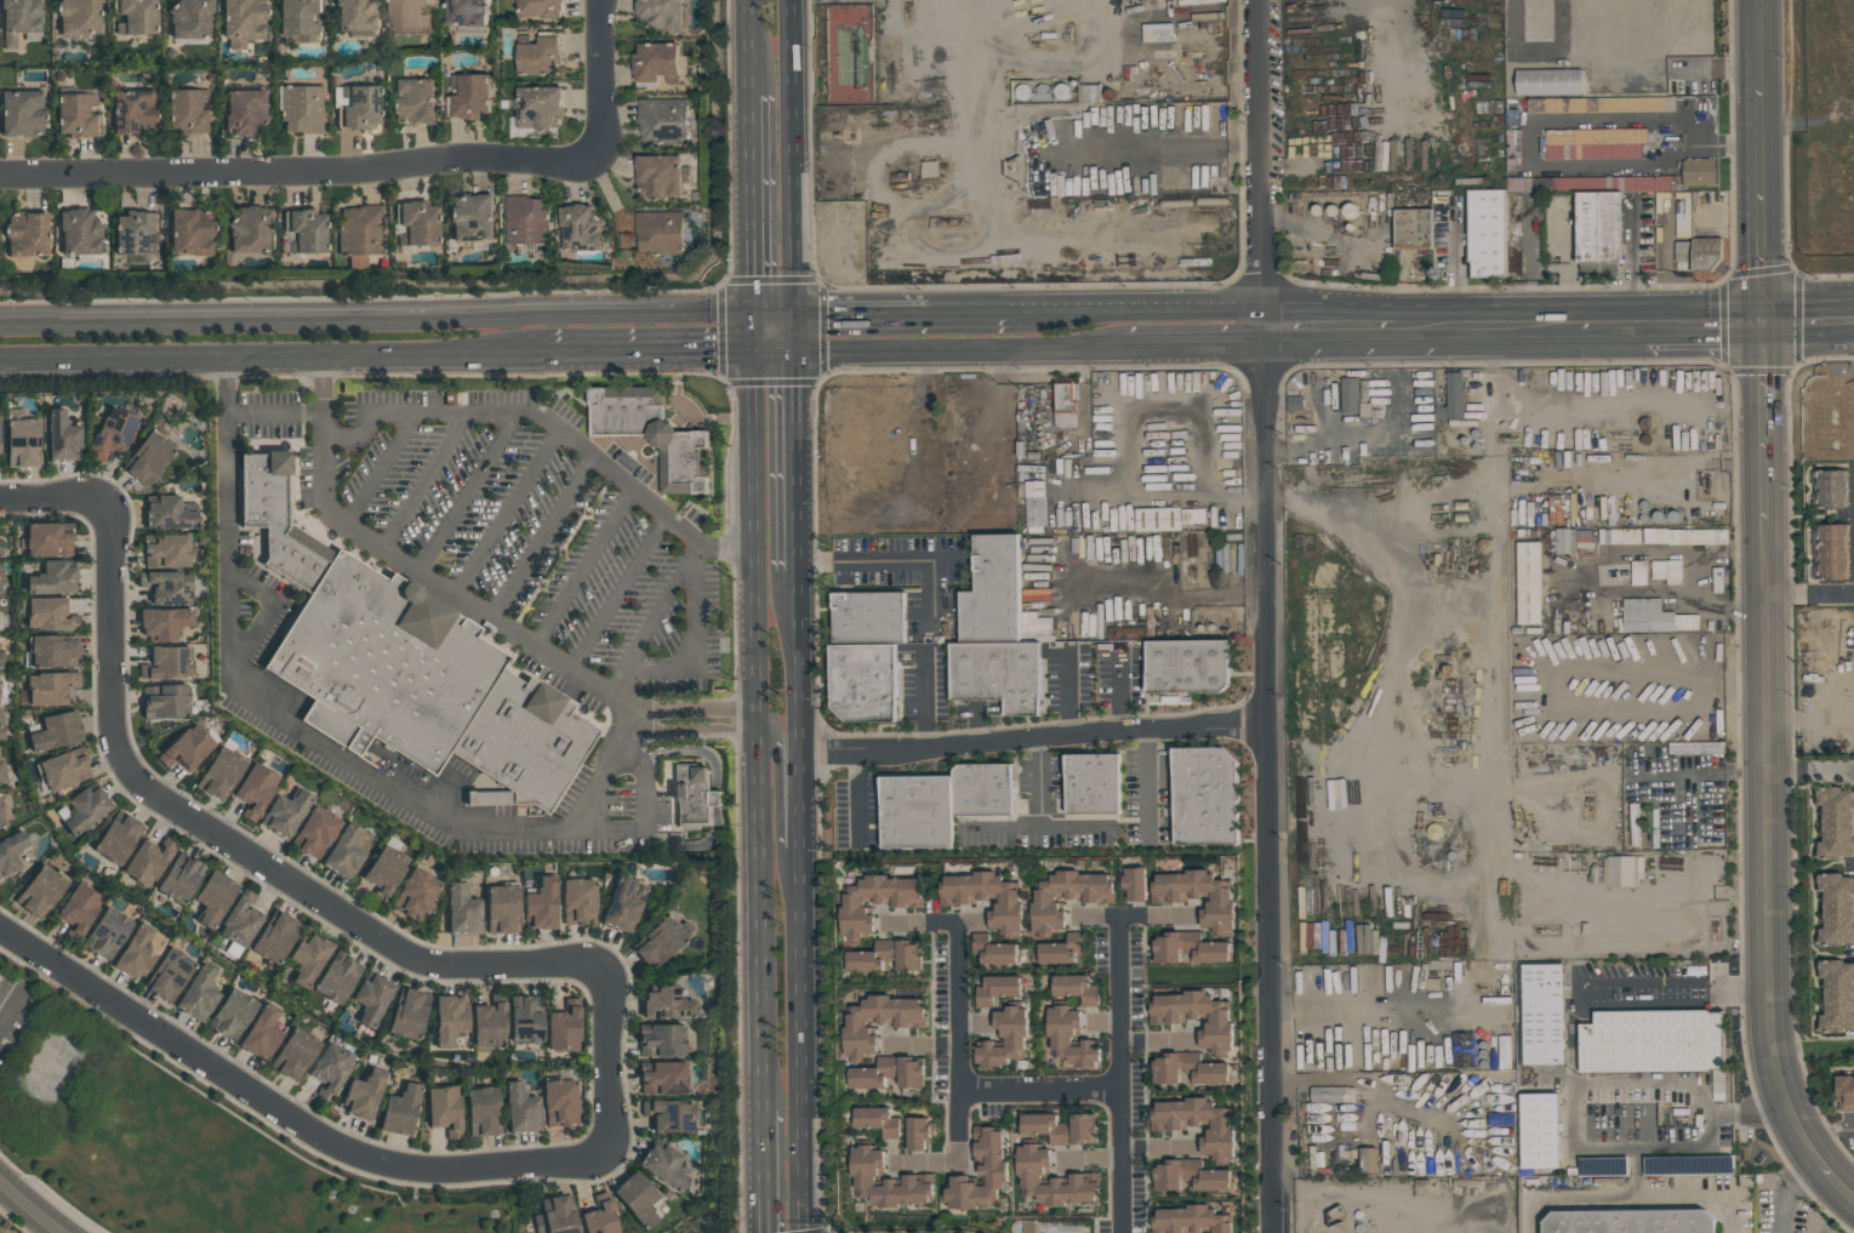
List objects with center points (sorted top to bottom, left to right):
building: (540, 7)
building: (464, 12)
building: (354, 13)
building: (409, 13)
building: (660, 13)
building: (135, 16)
building: (297, 16)
building: (78, 17)
building: (190, 17)
building: (244, 17)
building: (19, 18)
building: (1538, 21)
petroleum well: (1071, 33)
road: (1755, 41)
road: (752, 46)
building: (538, 57)
building: (656, 63)
road: (1666, 65)
road: (601, 75)
building: (1547, 81)
building: (1091, 93)
building: (470, 95)
building: (412, 102)
building: (1607, 104)
building: (356, 105)
building: (301, 107)
building: (538, 107)
building: (187, 109)
building: (244, 109)
building: (132, 112)
building: (21, 113)
building: (75, 114)
road: (1547, 120)
building: (662, 121)
crop: (1820, 135)
building: (1595, 143)
building: (1513, 149)
road: (797, 156)
road: (300, 171)
building: (1698, 171)
building: (658, 176)
building: (1649, 183)
building: (1519, 184)
road: (1757, 201)
building: (472, 217)
building: (524, 219)
road: (754, 221)
petroleum well: (955, 221)
building: (413, 222)
building: (1599, 226)
building: (1411, 227)
building: (581, 228)
building: (247, 229)
building: (304, 229)
building: (359, 230)
building: (79, 232)
building: (135, 232)
building: (188, 232)
building: (1485, 232)
building: (658, 233)
building: (25, 234)
building: (1683, 244)
building: (1706, 252)
road: (1462, 261)
road: (1140, 307)
road: (906, 312)
traffic signals: (755, 313)
road: (777, 313)
traffic signals: (800, 313)
road: (377, 315)
road: (1807, 319)
road: (1702, 320)
traffic signals: (1759, 320)
road: (1611, 321)
road: (1540, 322)
road: (1448, 324)
road: (1328, 325)
road: (802, 331)
road: (1196, 344)
road: (964, 349)
traffic signals: (757, 350)
road: (780, 350)
traffic signals: (803, 350)
road: (652, 352)
road: (274, 355)
building: (1348, 394)
building: (1453, 398)
building: (1294, 403)
building: (1065, 405)
road: (278, 412)
petroleum well: (1302, 418)
road: (1761, 422)
road: (553, 423)
building: (0, 433)
building: (110, 434)
building: (62, 436)
petroleum well: (1622, 436)
building: (19, 443)
building: (148, 457)
road: (800, 459)
building: (692, 466)
road: (383, 468)
building: (1831, 478)
road: (428, 480)
petroleum well: (1707, 483)
road: (52, 492)
road: (470, 493)
building: (1831, 496)
building: (1033, 503)
road: (509, 512)
building: (167, 513)
building: (1156, 519)
building: (283, 520)
building: (1830, 532)
road: (755, 535)
road: (546, 538)
building: (46, 540)
building: (0, 547)
building: (165, 550)
building: (1830, 550)
road: (701, 555)
road: (900, 559)
road: (587, 569)
building: (1830, 569)
road: (420, 570)
road: (1587, 572)
building: (0, 576)
petroleum well: (1618, 577)
building: (52, 578)
road: (1693, 581)
building: (1528, 582)
building: (166, 587)
building: (992, 592)
road: (1169, 592)
road: (621, 593)
road: (1808, 595)
building: (47, 615)
building: (1645, 615)
road: (661, 616)
road: (1263, 616)
road: (268, 617)
building: (868, 617)
building: (162, 623)
building: (1128, 633)
road: (696, 650)
building: (53, 651)
building: (0, 657)
road: (802, 661)
building: (166, 663)
building: (389, 663)
building: (1186, 666)
road: (1567, 669)
building: (997, 673)
road: (618, 681)
building: (863, 681)
building: (46, 689)
road: (1067, 691)
road: (1119, 692)
road: (924, 696)
building: (164, 700)
road: (701, 707)
building: (0, 726)
road: (698, 730)
building: (56, 731)
road: (314, 735)
road: (758, 735)
road: (1033, 736)
building: (529, 742)
building: (186, 747)
building: (64, 769)
building: (219, 772)
road: (1809, 772)
building: (1, 774)
road: (1038, 781)
road: (1146, 781)
building: (1091, 784)
building: (253, 789)
building: (982, 789)
road: (857, 794)
building: (490, 795)
building: (697, 795)
building: (1832, 795)
road: (777, 797)
building: (1204, 797)
road: (804, 800)
petroleum well: (1647, 804)
petroleum well: (1590, 806)
building: (85, 809)
building: (915, 811)
building: (285, 812)
building: (1836, 812)
road: (646, 815)
petroleum well: (1518, 820)
building: (1, 821)
road: (1036, 826)
building: (1835, 829)
building: (315, 832)
road: (1764, 835)
building: (116, 838)
building: (1836, 847)
building: (11, 852)
building: (344, 852)
building: (147, 862)
building: (384, 869)
building: (1622, 870)
building: (179, 878)
building: (1133, 884)
building: (1835, 884)
road: (306, 890)
building: (39, 892)
building: (413, 894)
road: (1701, 894)
building: (1198, 896)
building: (212, 897)
building: (1066, 897)
building: (1836, 901)
building: (577, 902)
building: (874, 903)
building: (540, 904)
building: (621, 906)
building: (1008, 908)
building: (462, 909)
building: (501, 909)
building: (78, 911)
road: (1135, 914)
building: (1836, 918)
building: (239, 923)
road: (924, 923)
petroleum well: (1716, 925)
petroleum well: (1547, 927)
road: (760, 930)
building: (107, 934)
building: (1835, 935)
building: (279, 937)
building: (657, 941)
building: (1060, 949)
building: (1187, 949)
building: (992, 951)
building: (135, 953)
building: (886, 957)
building: (308, 958)
building: (1833, 969)
building: (169, 975)
building: (337, 976)
road: (1682, 983)
building: (1836, 983)
petroleum well: (1484, 987)
building: (997, 989)
building: (1076, 989)
building: (198, 993)
building: (371, 997)
building: (1837, 1000)
building: (666, 1004)
road: (11, 1009)
building: (407, 1012)
building: (230, 1014)
building: (1541, 1014)
building: (1194, 1017)
building: (525, 1018)
building: (449, 1020)
building: (1836, 1020)
road: (974, 1021)
building: (490, 1022)
building: (878, 1022)
building: (564, 1027)
building: (261, 1032)
building: (660, 1039)
building: (1004, 1039)
road: (806, 1040)
road: (1157, 1040)
building: (1650, 1040)
building: (1068, 1041)
road: (958, 1044)
road: (919, 1045)
building: (293, 1054)
building: (329, 1067)
building: (1186, 1069)
building: (888, 1073)
road: (1118, 1074)
building: (663, 1079)
road: (1632, 1081)
road: (1038, 1090)
building: (363, 1092)
building: (1846, 1092)
building: (559, 1103)
building: (520, 1108)
building: (444, 1109)
building: (398, 1111)
building: (481, 1112)
road: (284, 1114)
building: (668, 1115)
building: (877, 1121)
building: (1197, 1125)
building: (1061, 1129)
building: (1538, 1130)
road: (1830, 1130)
building: (918, 1134)
park: (182, 1138)
road: (1159, 1148)
road: (1813, 1153)
road: (1086, 1159)
building: (664, 1165)
road: (764, 1171)
building: (979, 1174)
building: (1188, 1175)
building: (1052, 1180)
building: (885, 1181)
road: (1836, 1183)
road: (1781, 1187)
road: (1631, 1197)
building: (638, 1198)
road: (33, 1206)
building: (558, 1215)
building: (600, 1216)
building: (1188, 1221)
building: (1630, 1222)
building: (1, 1232)

